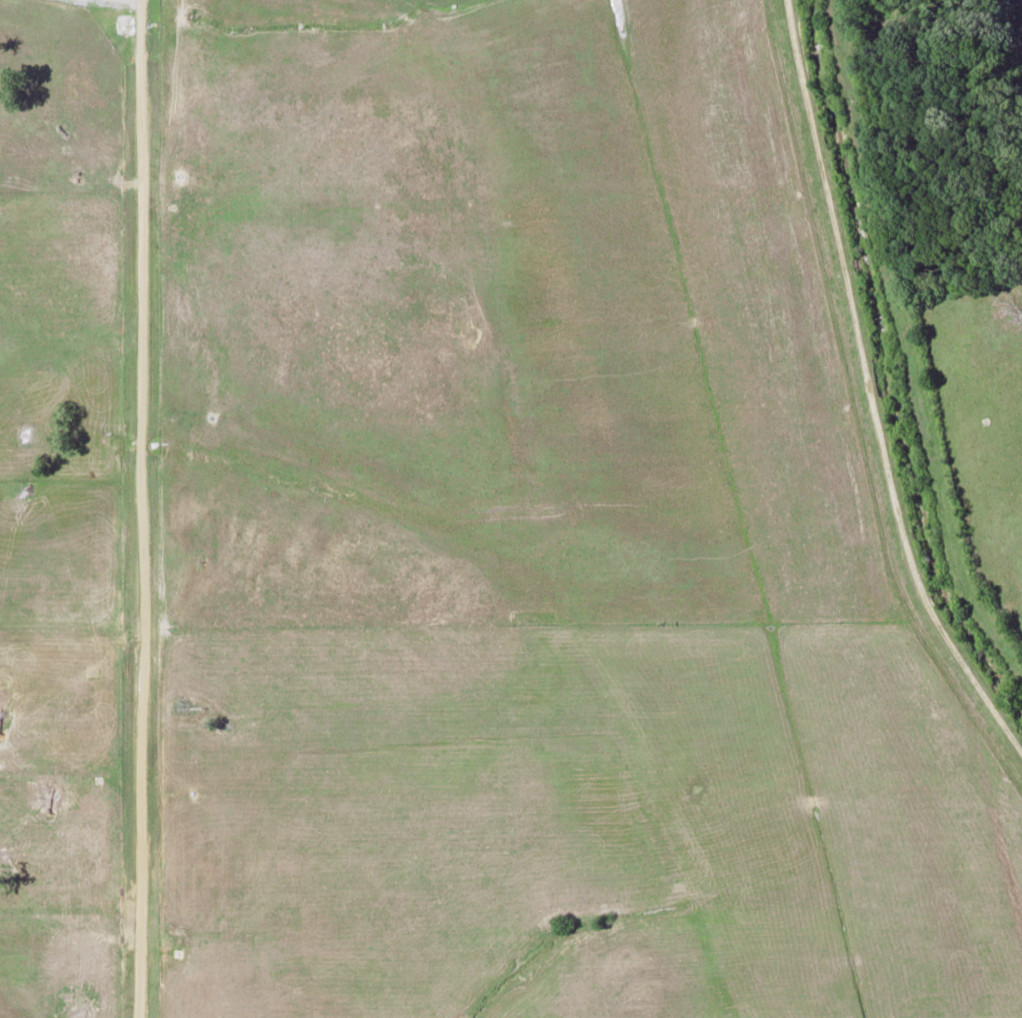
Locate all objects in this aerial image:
road: (870, 388)
road: (152, 509)

